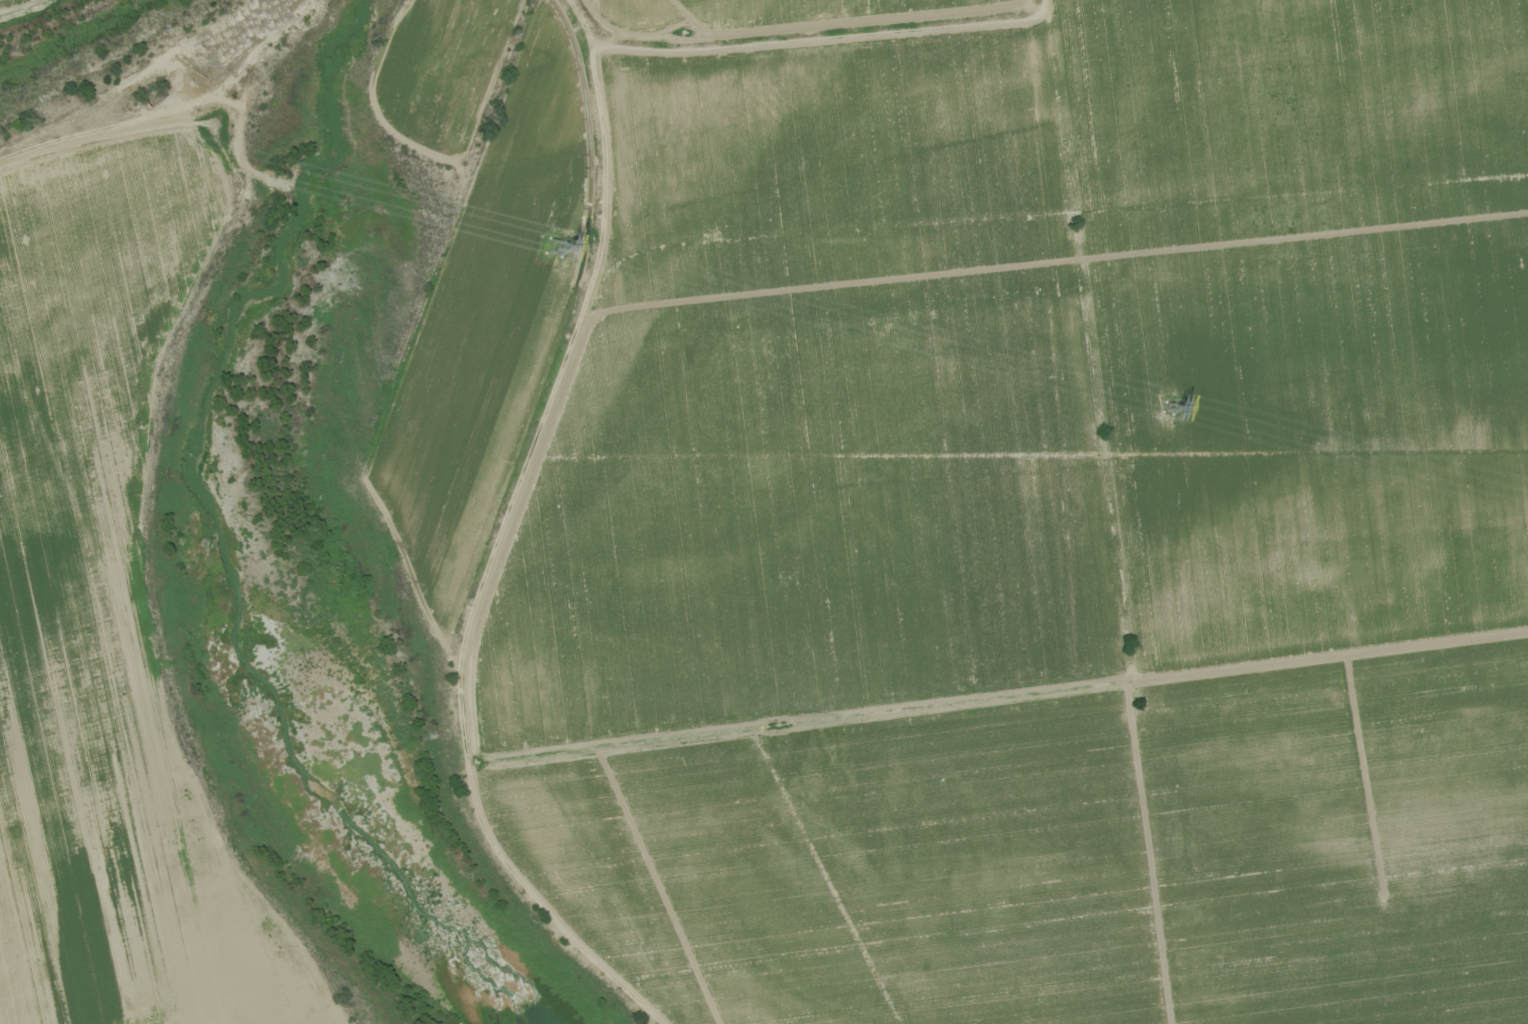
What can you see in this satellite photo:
power tower: (558, 245)
power tower: (1164, 407)

